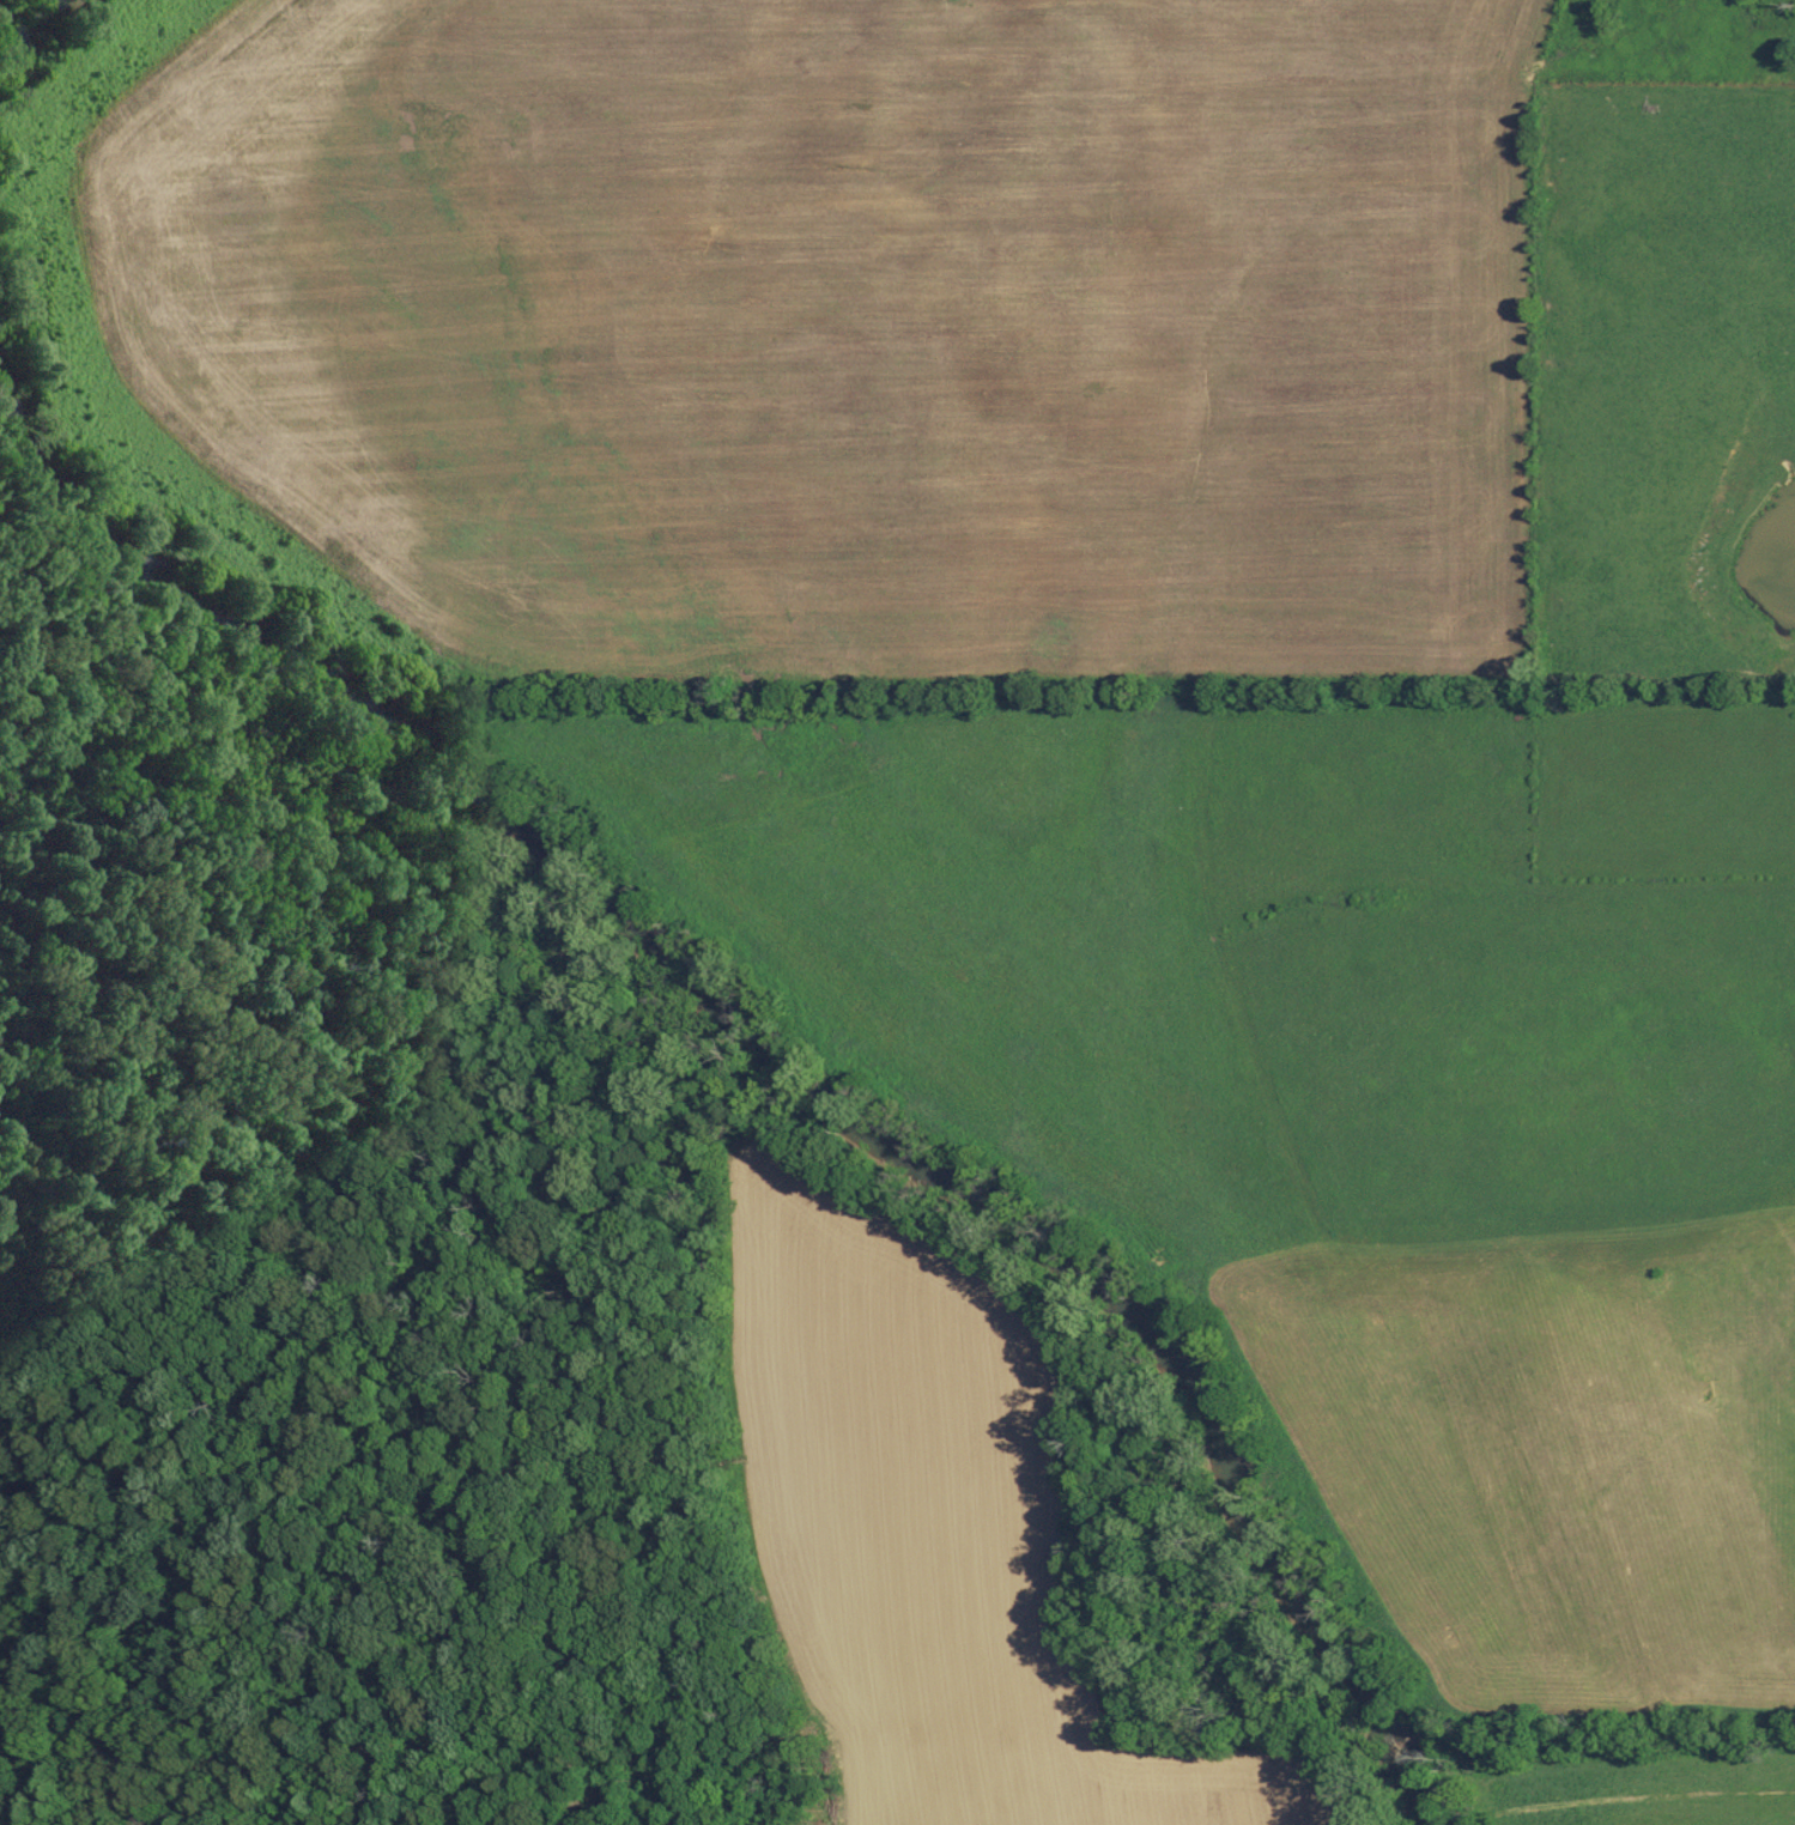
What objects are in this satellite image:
river: (19, 34)
road: (1669, 148)
river: (795, 996)

